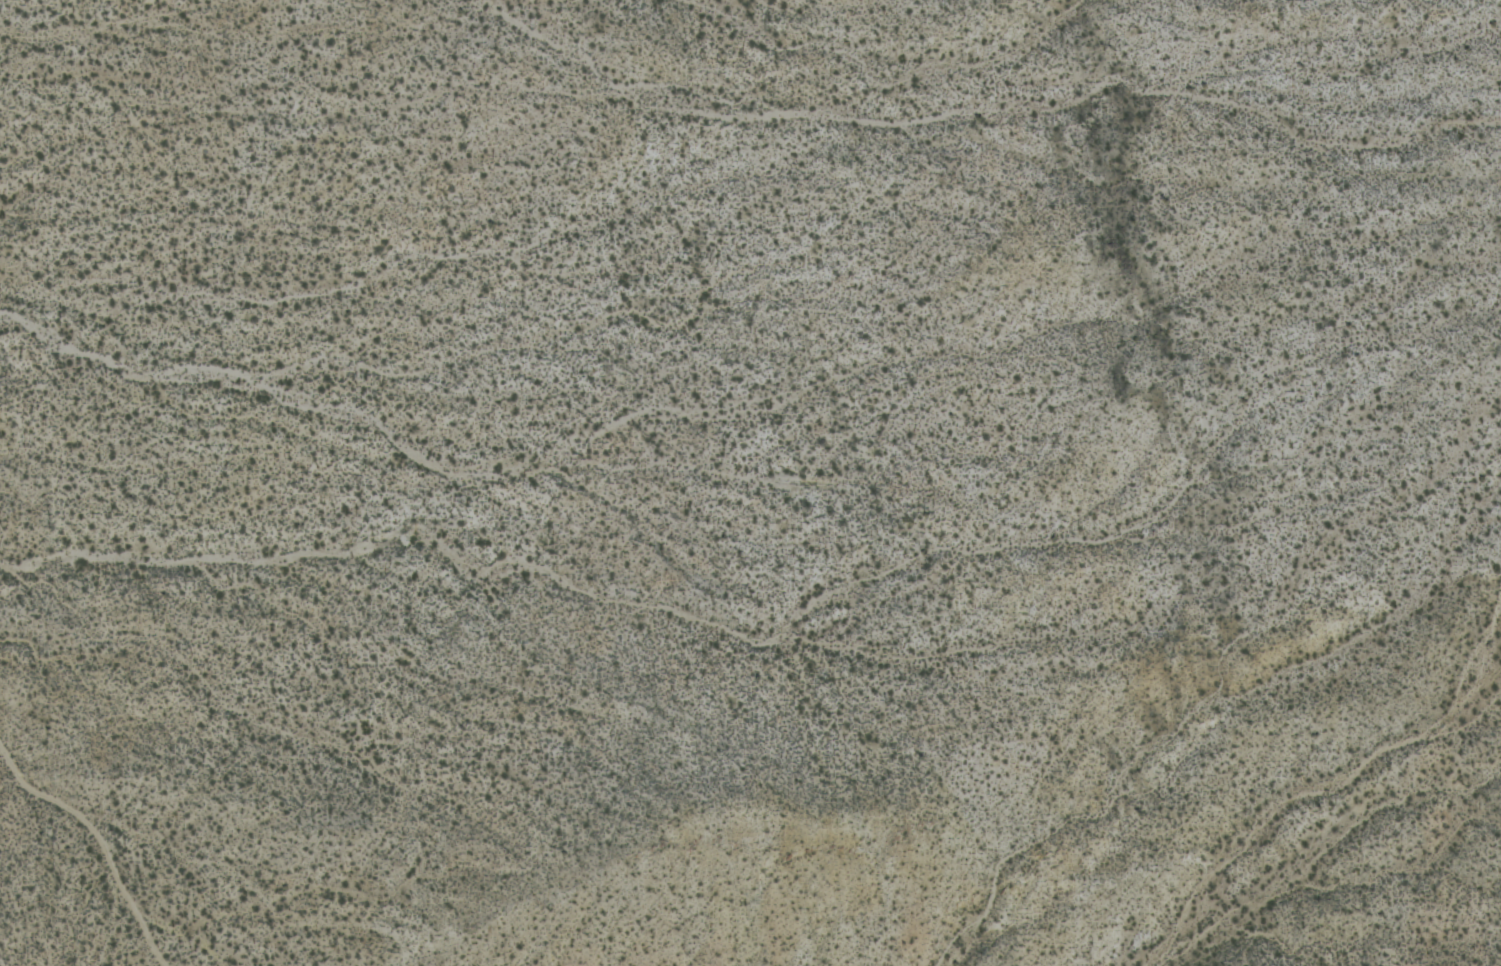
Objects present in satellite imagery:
road: (85, 844)

